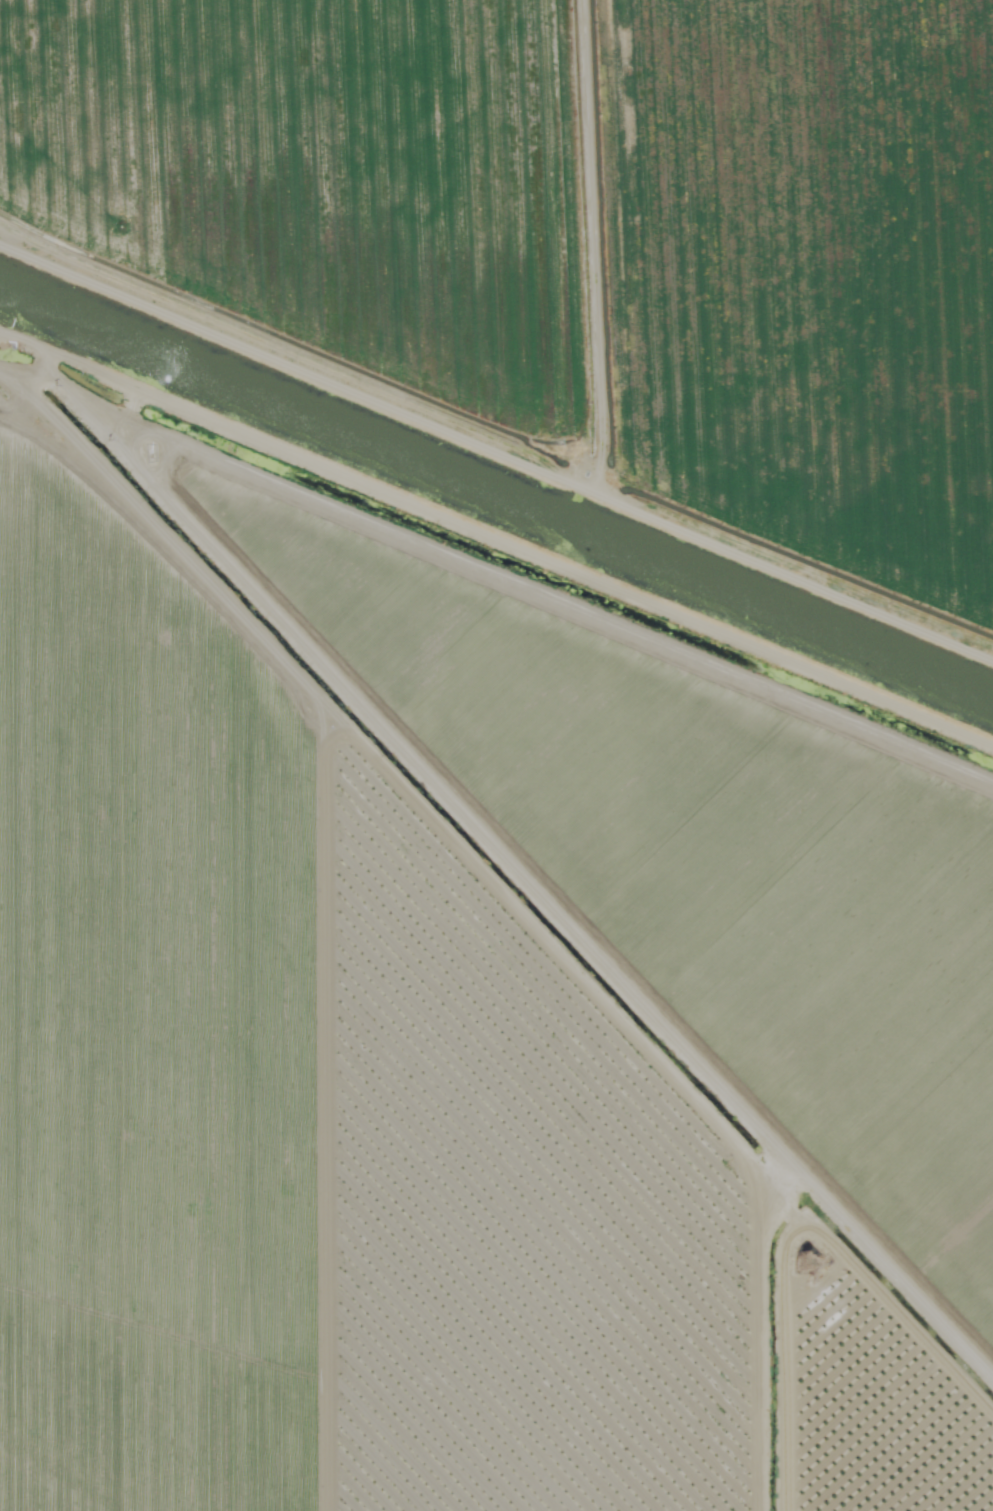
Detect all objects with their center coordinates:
crop: (575, 243)
road: (496, 377)
road: (448, 757)
crop: (688, 858)
crop: (304, 1079)
road: (835, 1203)
crop: (864, 1376)
road: (767, 1449)

